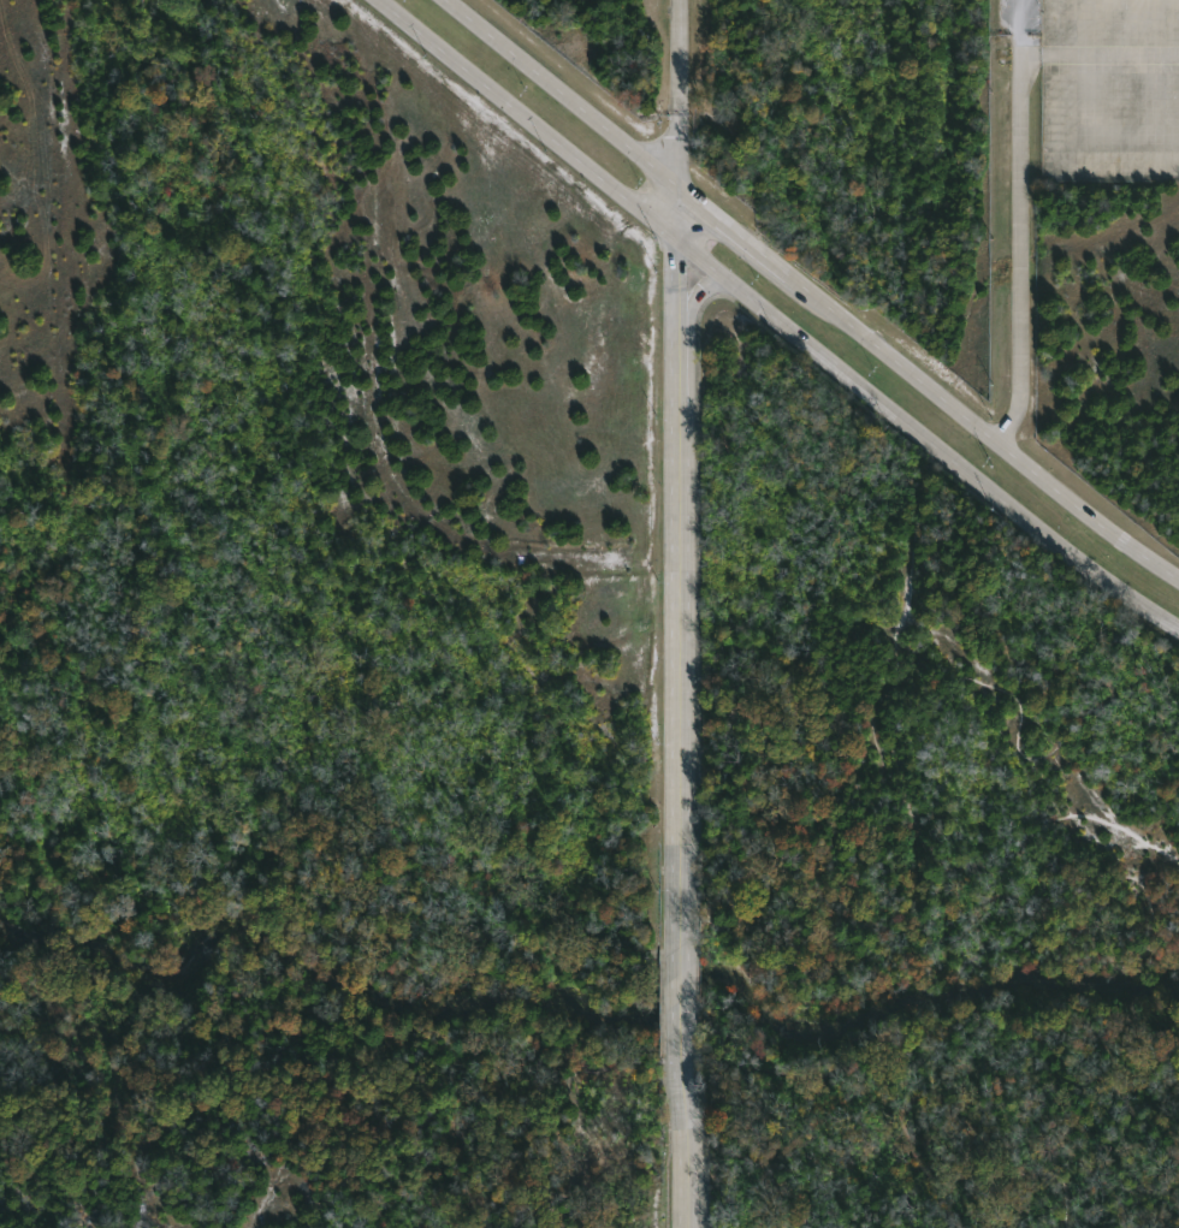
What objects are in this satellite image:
road: (680, 58)
road: (558, 96)
road: (681, 155)
road: (682, 219)
road: (1020, 224)
road: (734, 236)
road: (697, 298)
road: (775, 320)
road: (982, 431)
road: (500, 557)
road: (679, 588)
park: (924, 843)
road: (683, 974)
road: (687, 1122)

